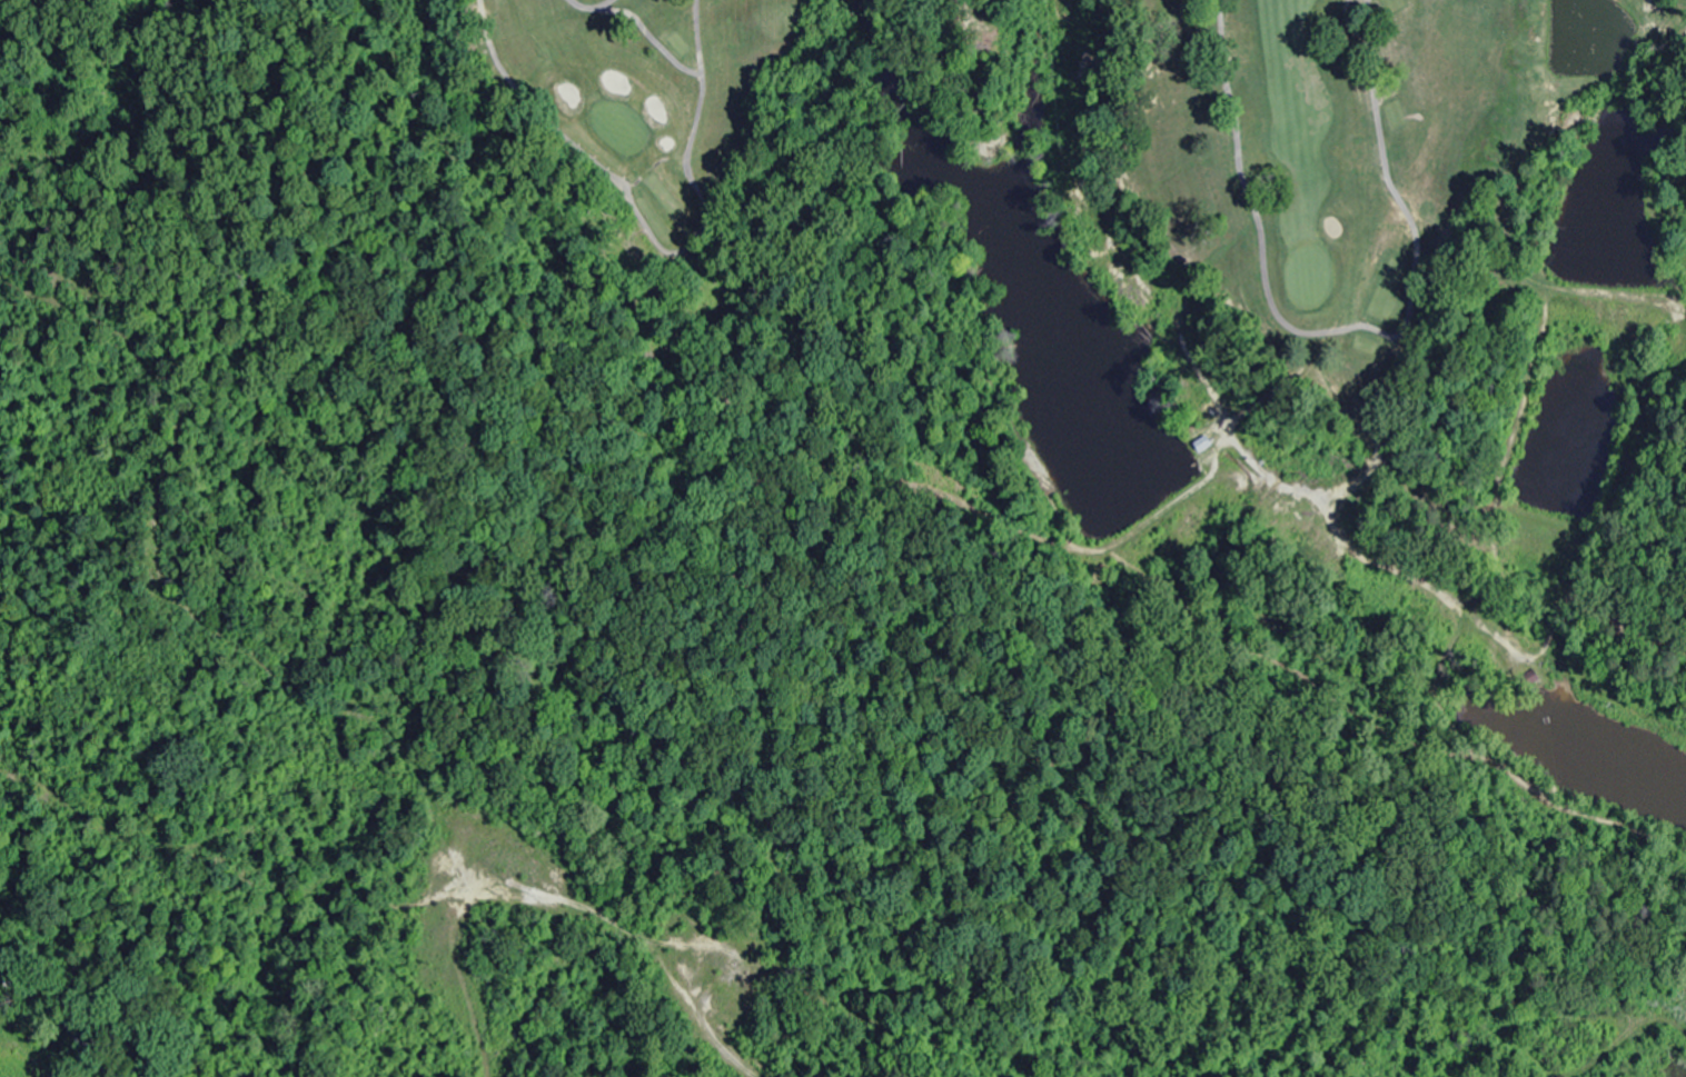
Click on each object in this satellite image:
park: (1144, 289)
building: (1201, 443)
road: (562, 612)
road: (575, 856)
road: (237, 879)
road: (61, 1026)

